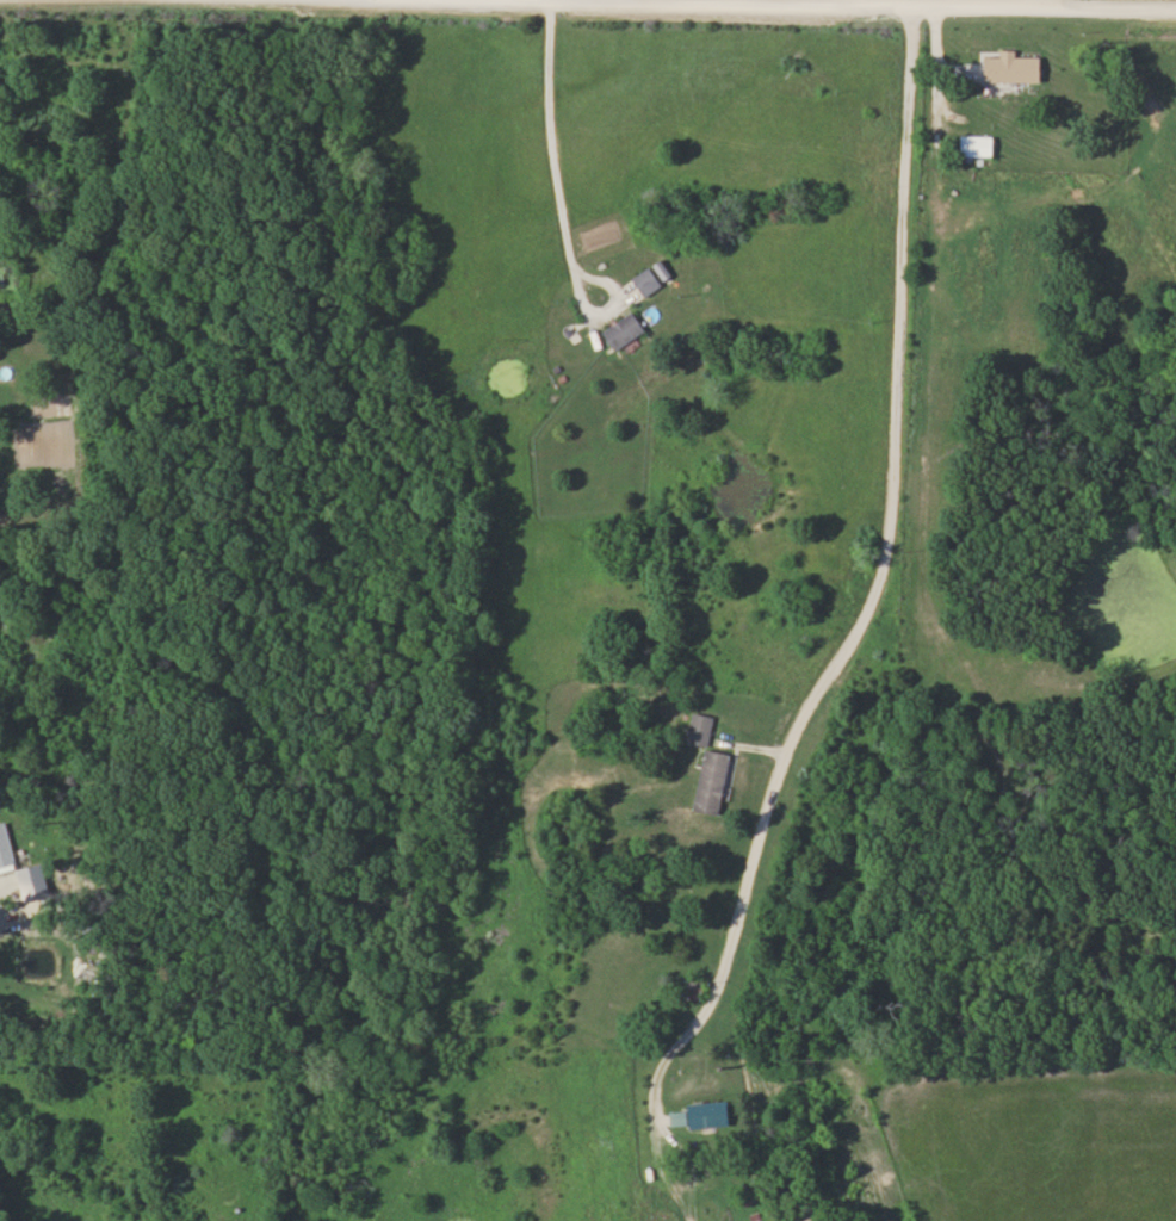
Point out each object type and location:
road: (908, 5)
road: (550, 141)
building: (980, 145)
building: (648, 281)
road: (609, 305)
building: (626, 330)
road: (873, 588)
building: (701, 729)
building: (714, 782)
building: (5, 848)
building: (29, 881)
building: (711, 1115)

